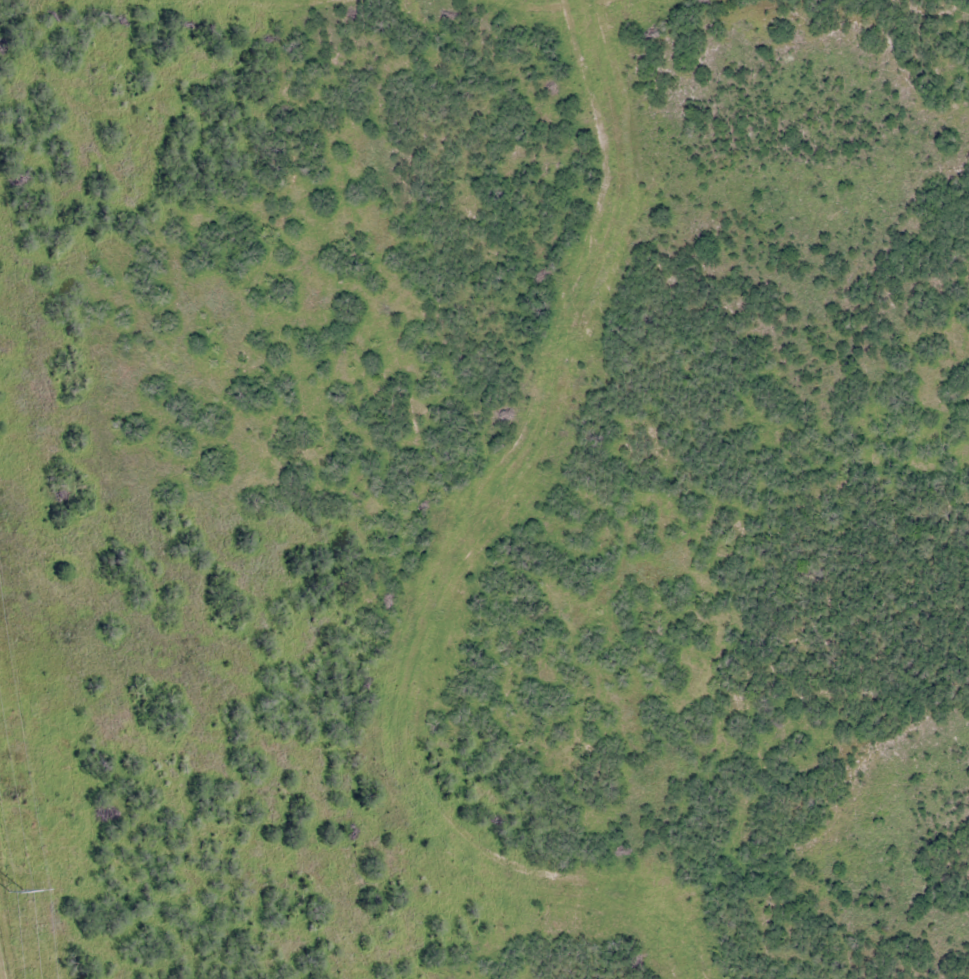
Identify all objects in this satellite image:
power tower: (15, 892)

